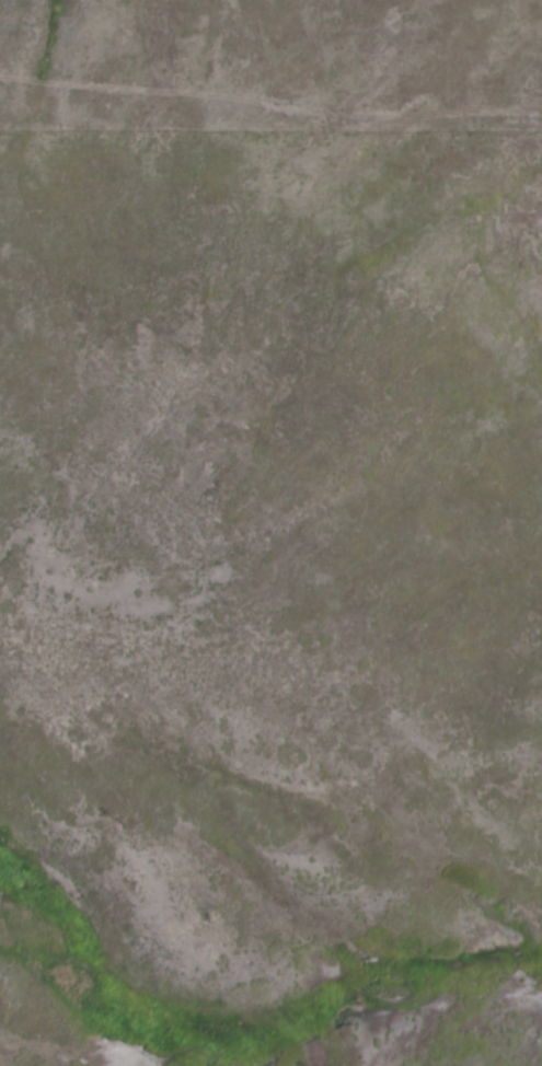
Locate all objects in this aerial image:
power tower: (129, 829)

